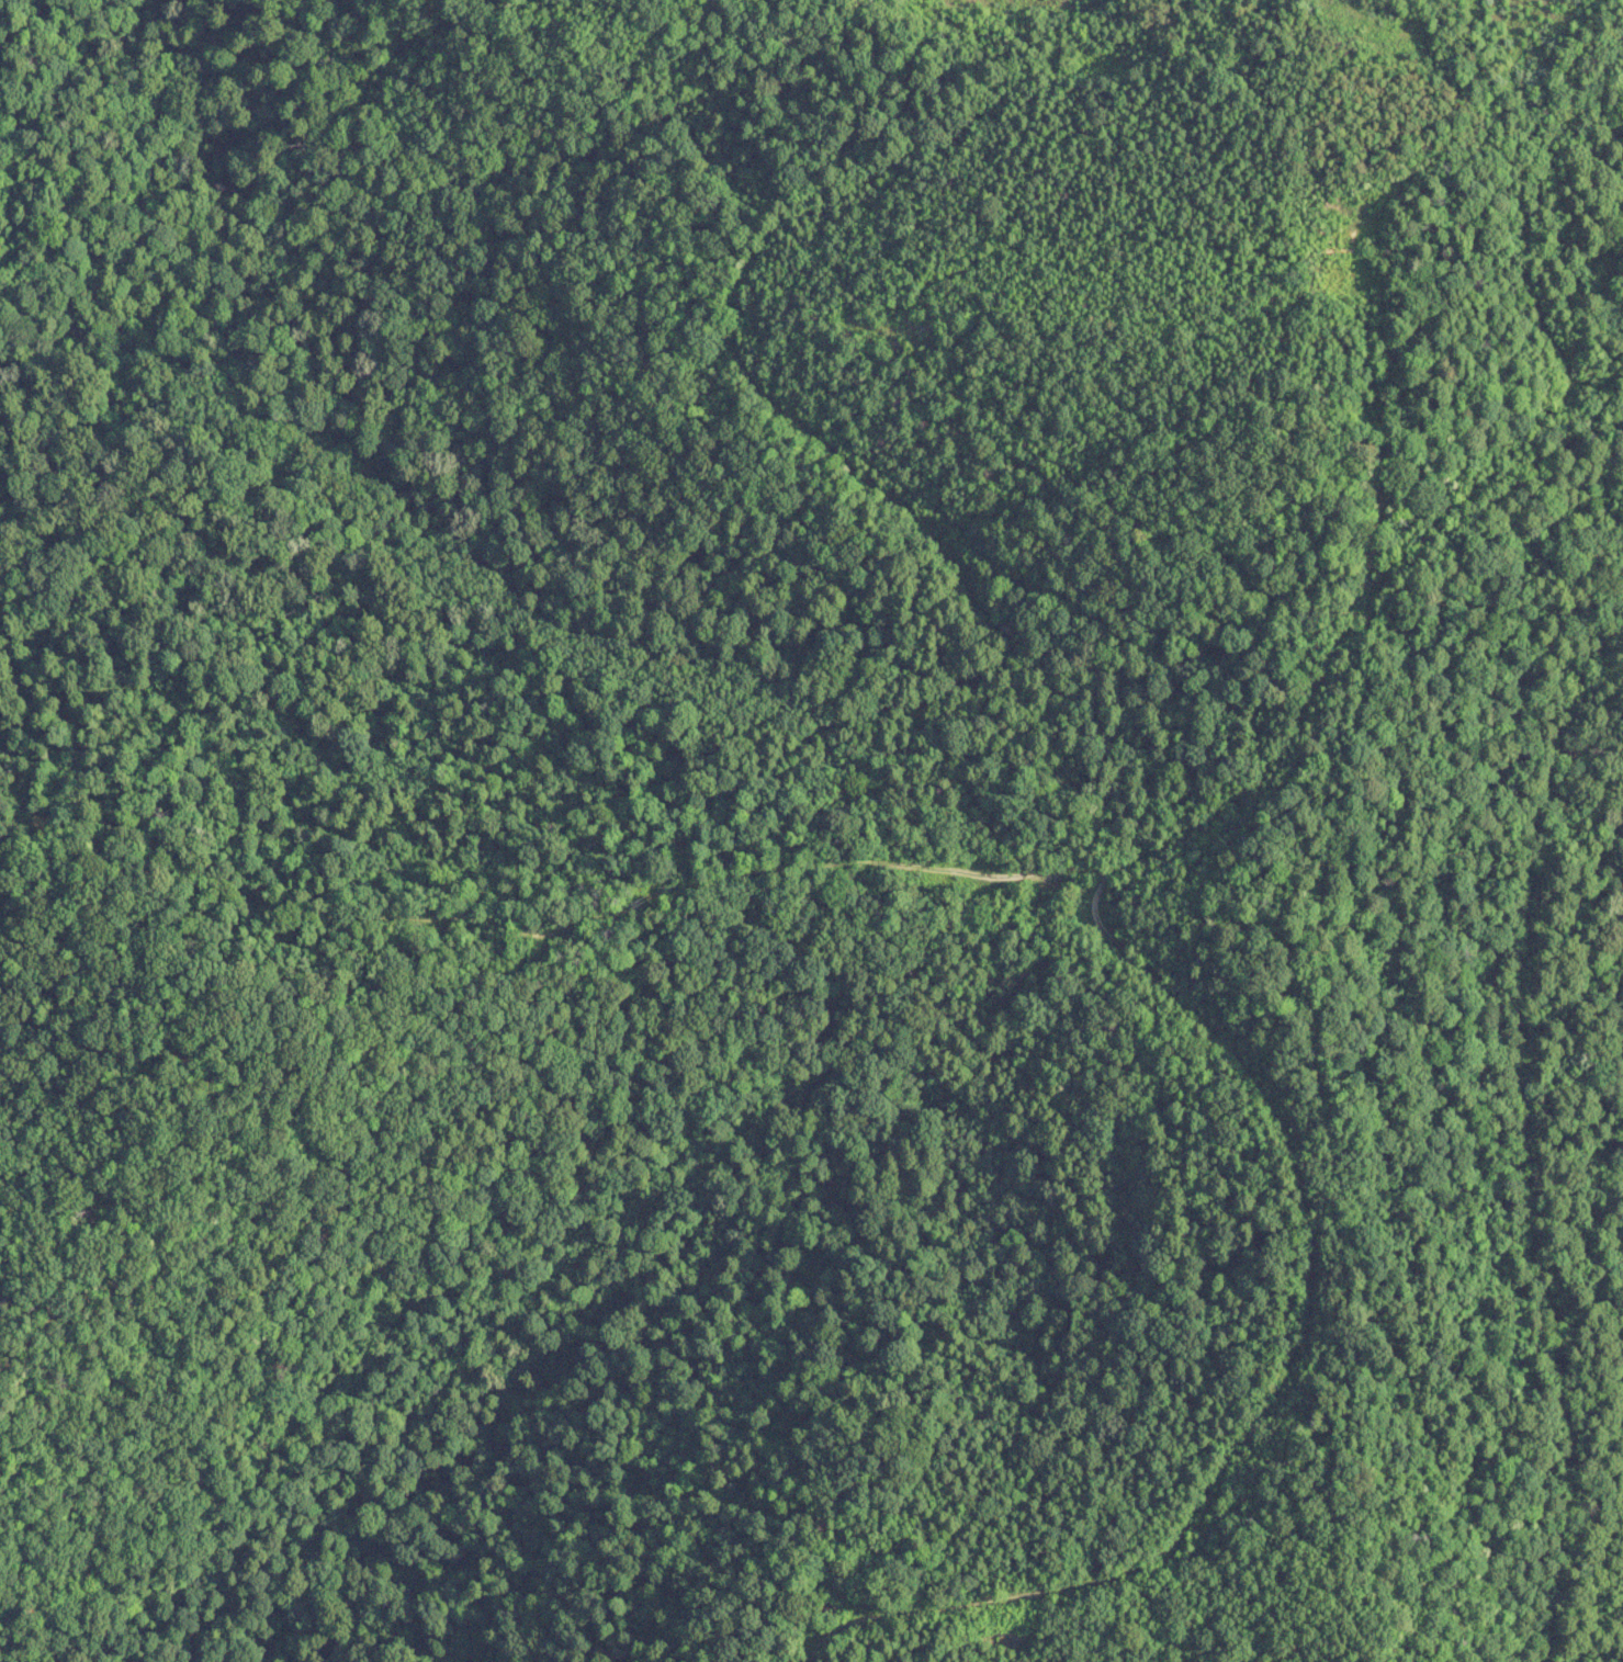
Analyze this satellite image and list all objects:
quarry: (1531, 5)
road: (1060, 935)

